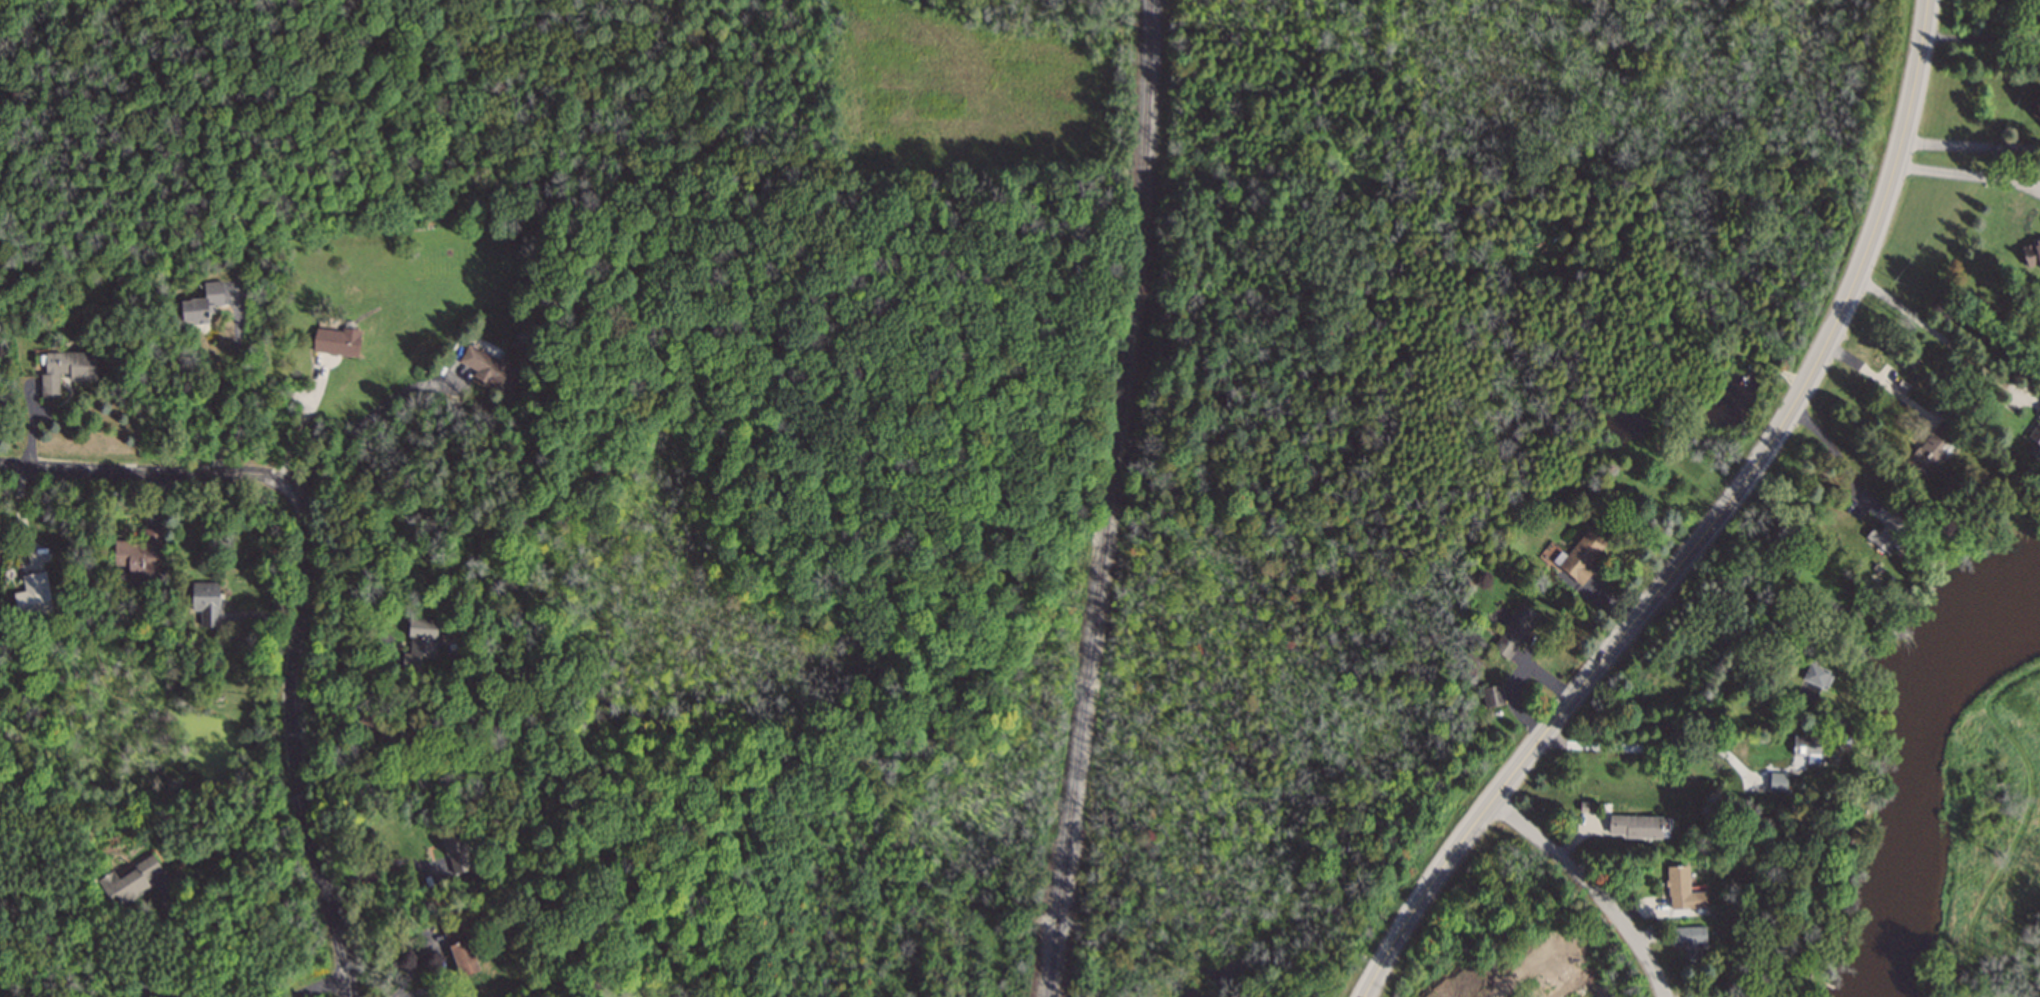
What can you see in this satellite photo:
road: (1978, 38)
road: (1969, 145)
road: (1966, 177)
building: (2032, 258)
building: (201, 305)
road: (1937, 338)
building: (336, 343)
building: (65, 371)
building: (490, 371)
road: (1875, 379)
road: (238, 385)
road: (361, 423)
road: (302, 426)
building: (2032, 442)
road: (1831, 448)
building: (1930, 450)
railway: (1107, 499)
road: (1702, 528)
building: (1885, 530)
building: (1581, 557)
building: (138, 558)
building: (33, 598)
road: (307, 599)
building: (206, 604)
building: (1514, 631)
building: (419, 644)
road: (390, 652)
building: (1817, 677)
building: (1492, 697)
building: (366, 727)
road: (1645, 743)
building: (1806, 746)
river: (1924, 765)
building: (1777, 784)
building: (1635, 828)
building: (454, 852)
road: (376, 868)
building: (129, 882)
road: (1591, 884)
building: (1682, 891)
building: (1689, 940)
road: (154, 941)
building: (459, 949)
road: (328, 988)

